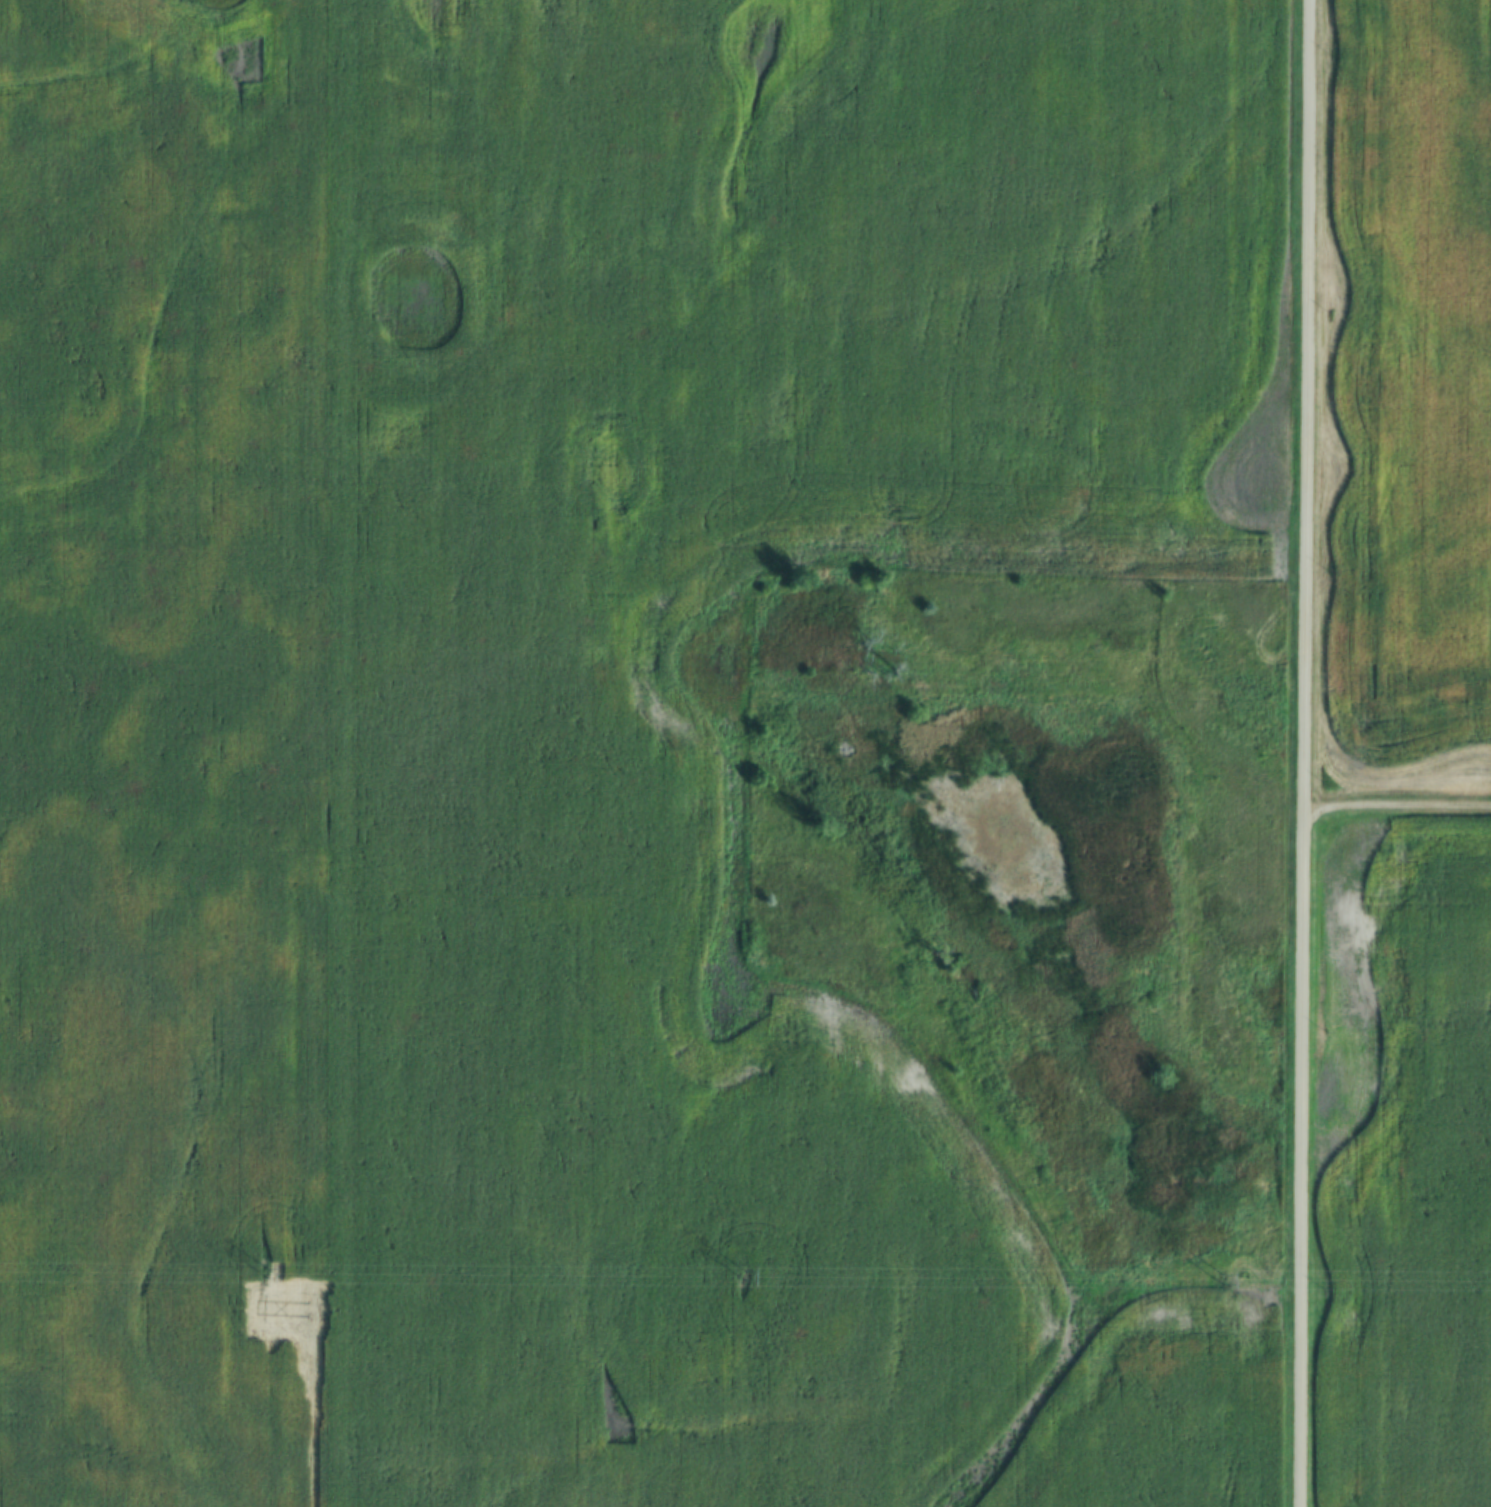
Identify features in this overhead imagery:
road: (1305, 753)
road: (1398, 807)
power tower: (261, 1272)
power tower: (743, 1276)
power tower: (1219, 1278)

